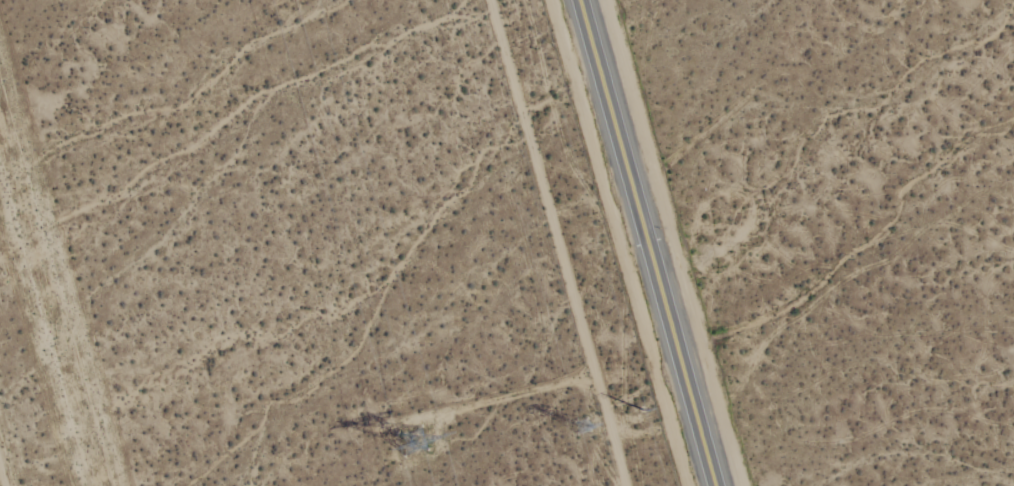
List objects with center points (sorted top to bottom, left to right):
road: (556, 242)
road: (643, 243)
power tower: (643, 410)
power tower: (567, 423)
power tower: (403, 438)
road: (1, 481)

